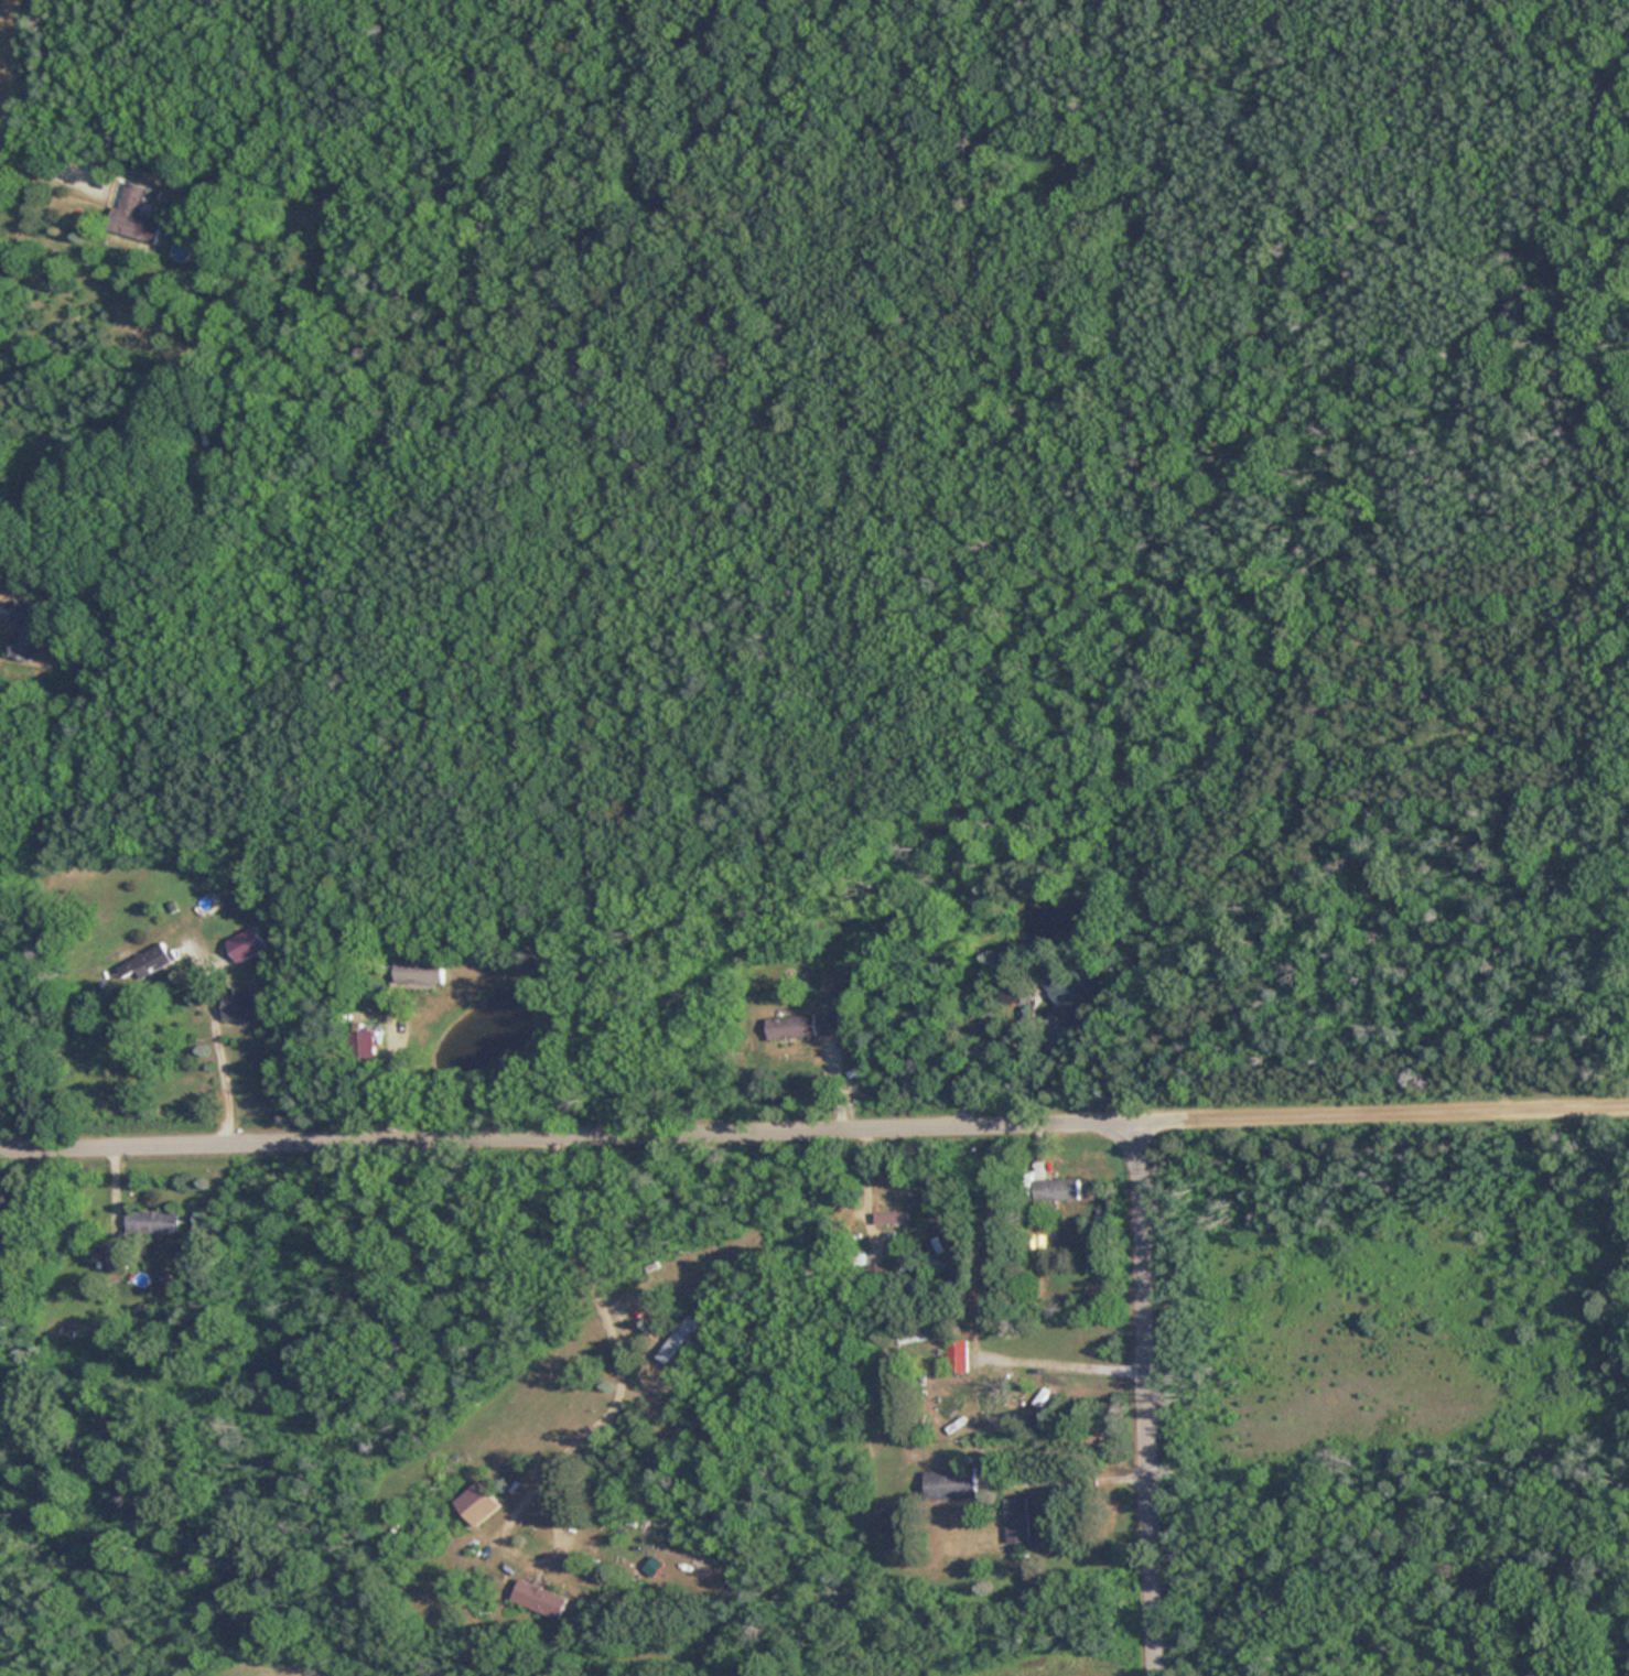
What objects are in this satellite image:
road: (8, 72)
road: (55, 171)
building: (134, 215)
road: (3, 604)
building: (28, 629)
park: (1292, 746)
building: (247, 943)
building: (419, 972)
building: (1068, 985)
building: (247, 1005)
building: (790, 1028)
building: (977, 1030)
road: (217, 1042)
road: (814, 1135)
building: (1056, 1189)
building: (892, 1218)
building: (153, 1221)
building: (943, 1234)
building: (117, 1256)
building: (957, 1355)
road: (1065, 1363)
road: (1147, 1401)
road: (598, 1419)
road: (1092, 1479)
building: (951, 1483)
building: (477, 1504)
building: (1017, 1520)
building: (540, 1598)

